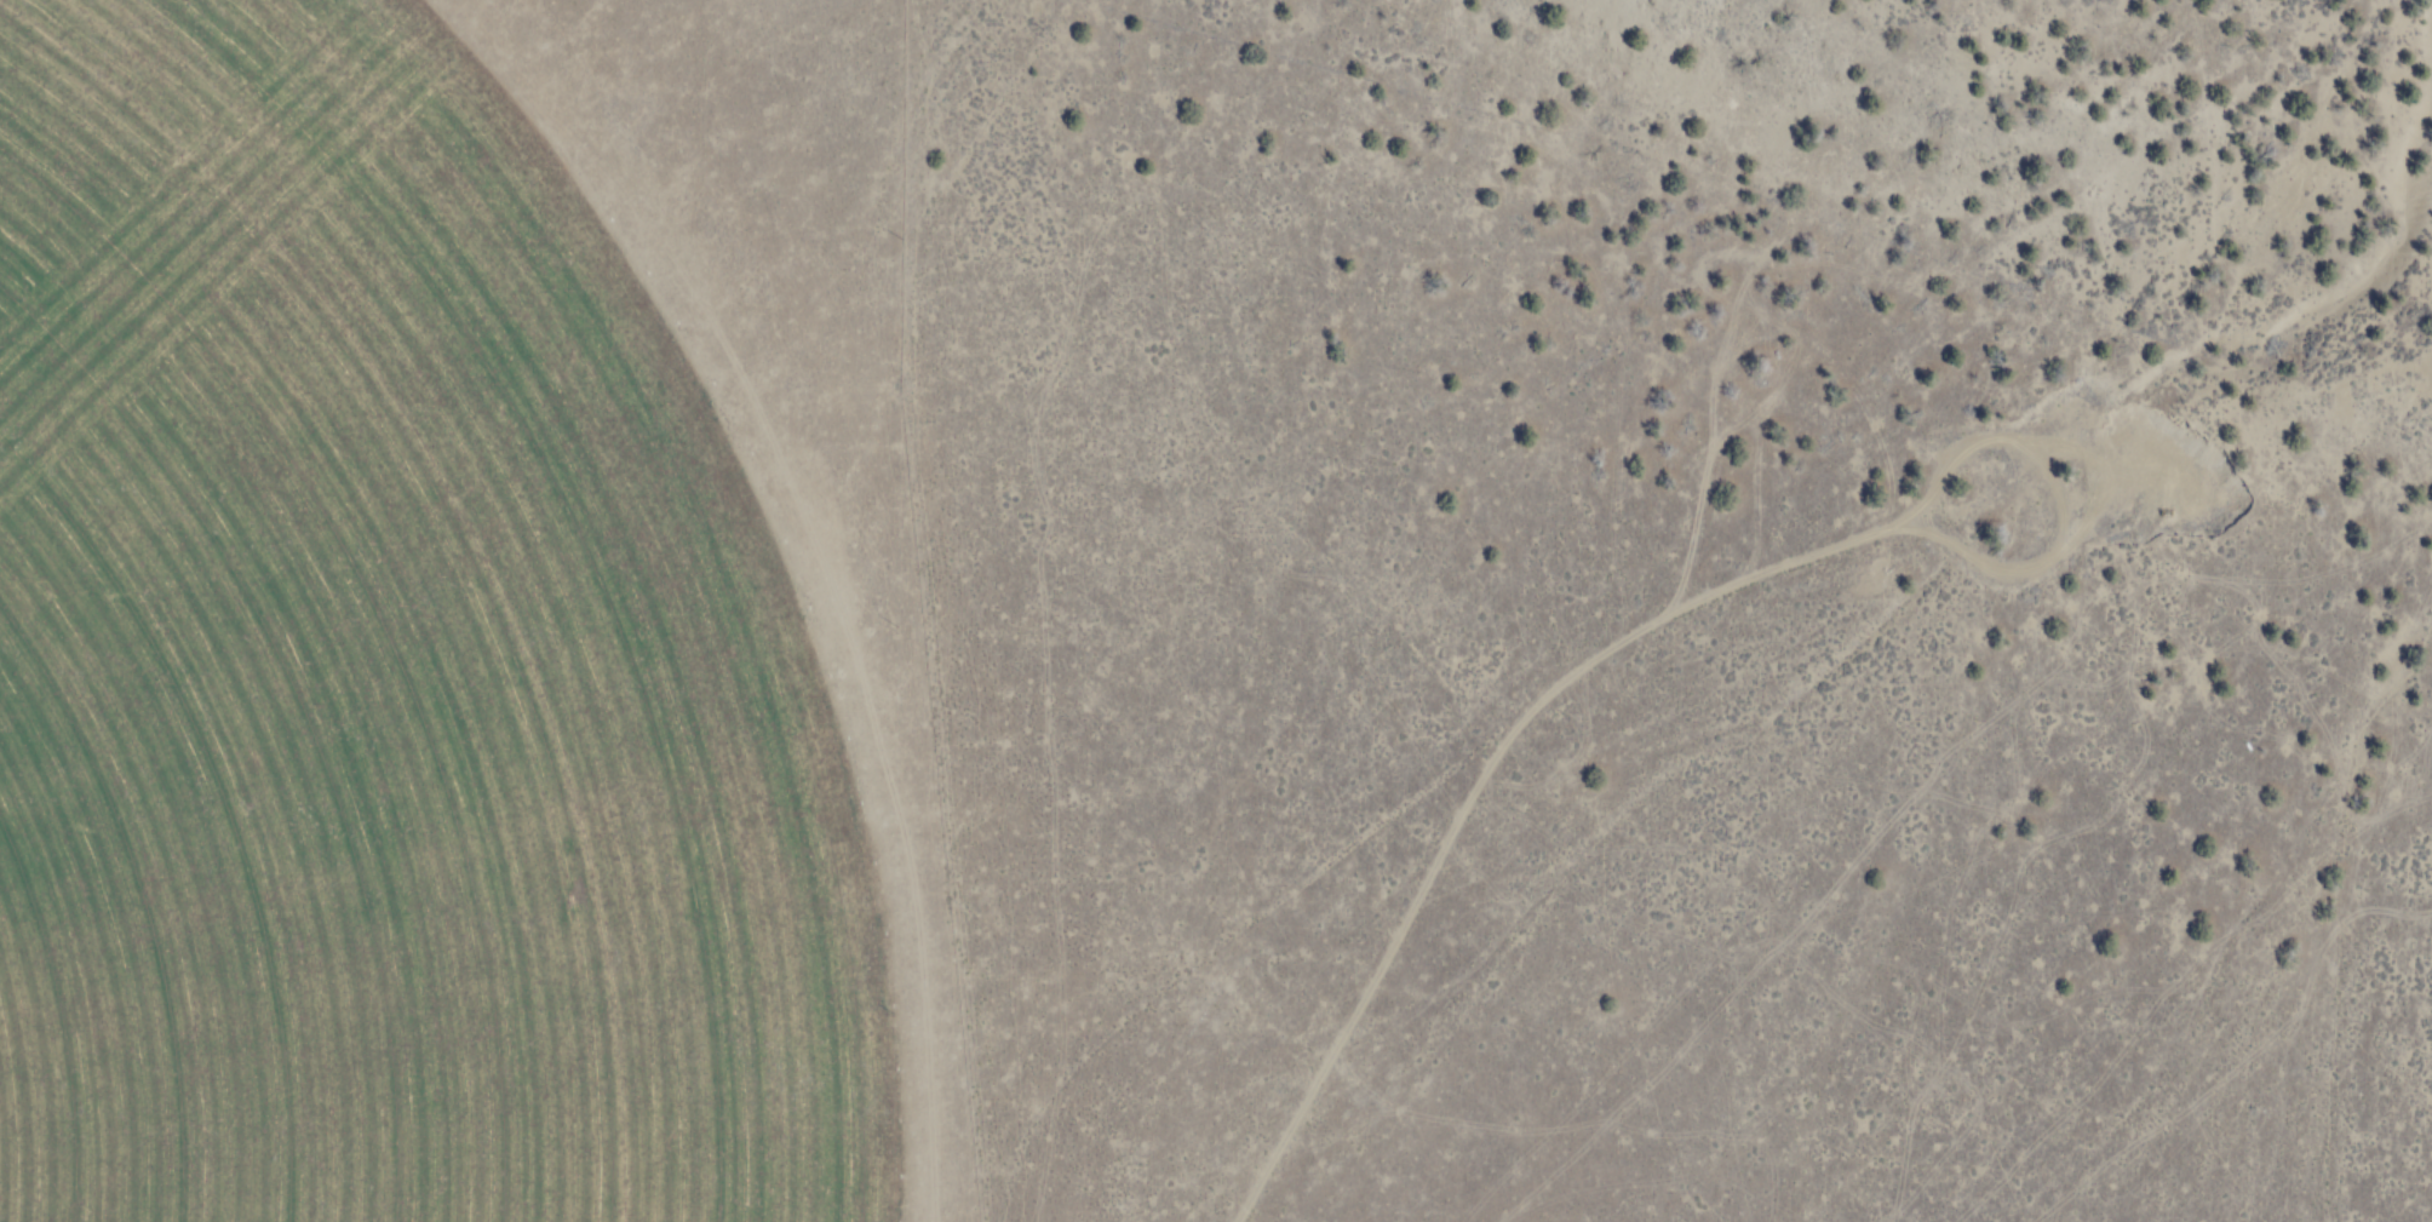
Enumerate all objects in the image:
road: (931, 596)
crop: (390, 672)

